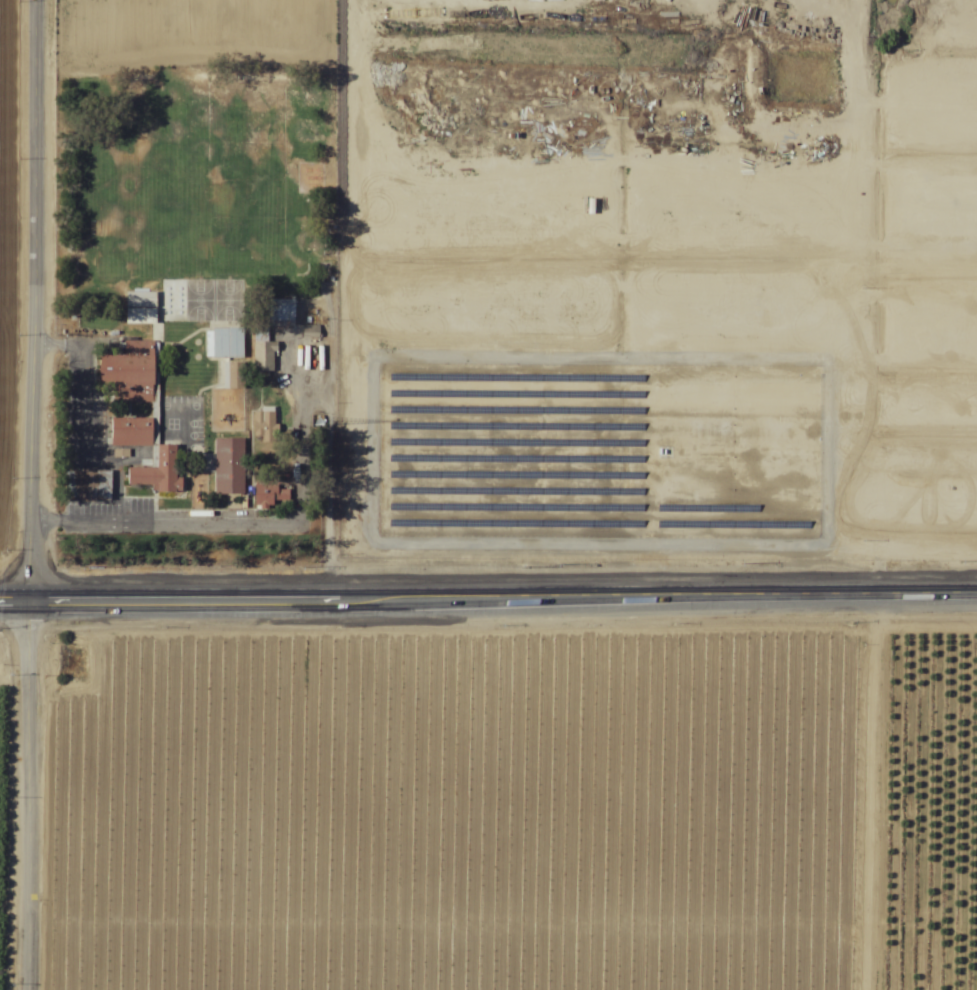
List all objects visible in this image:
building: (281, 313)
building: (223, 343)
building: (261, 349)
building: (129, 372)
building: (231, 375)
road: (79, 381)
building: (263, 426)
building: (131, 432)
building: (228, 466)
building: (158, 472)
building: (101, 485)
building: (269, 493)
road: (26, 495)
road: (488, 596)
crop: (488, 801)

